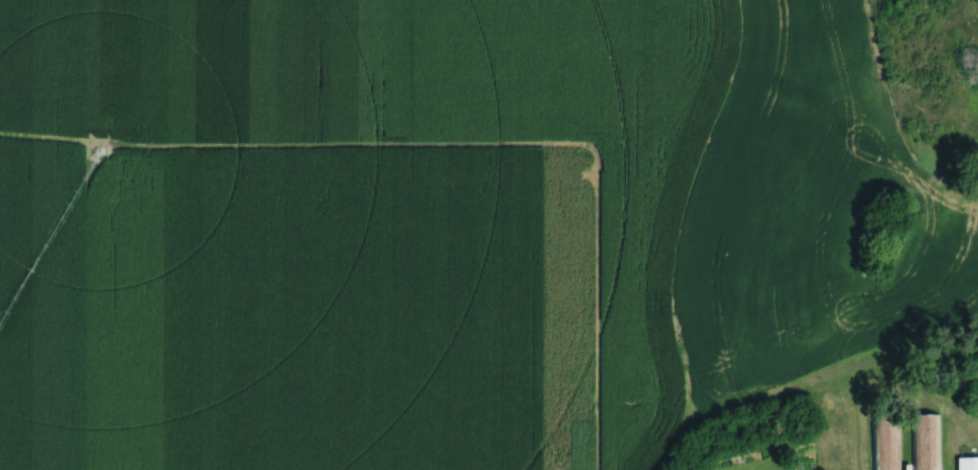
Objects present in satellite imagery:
building: (925, 441)
building: (886, 446)
building: (967, 463)

